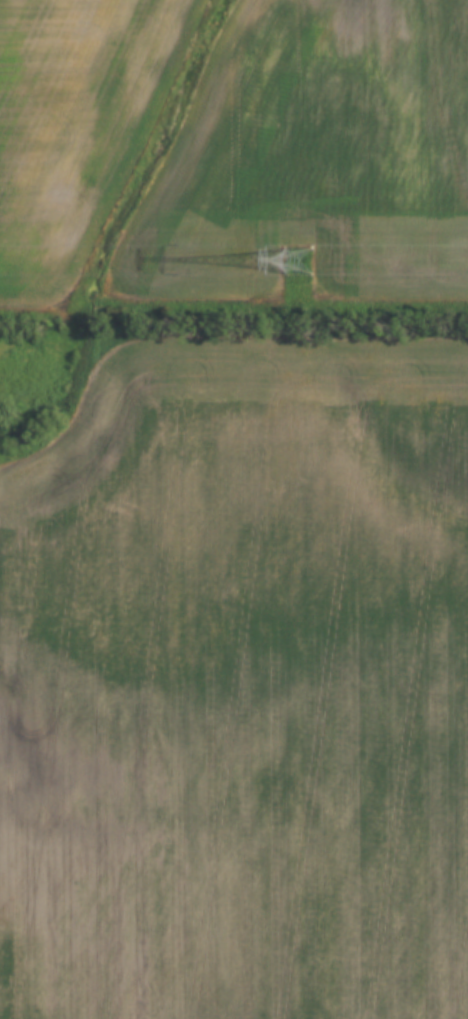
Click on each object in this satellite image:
power tower: (303, 273)

